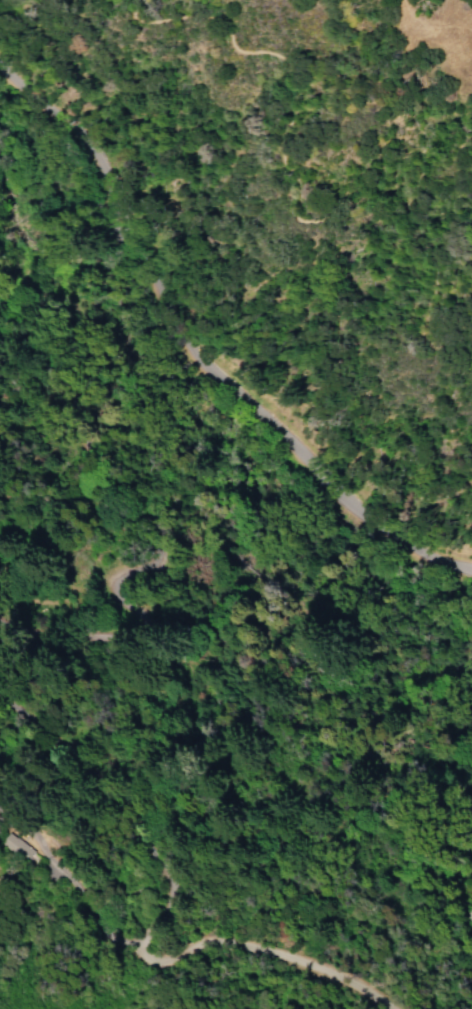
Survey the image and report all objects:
road: (298, 220)
road: (195, 360)
building: (15, 847)
road: (170, 955)

